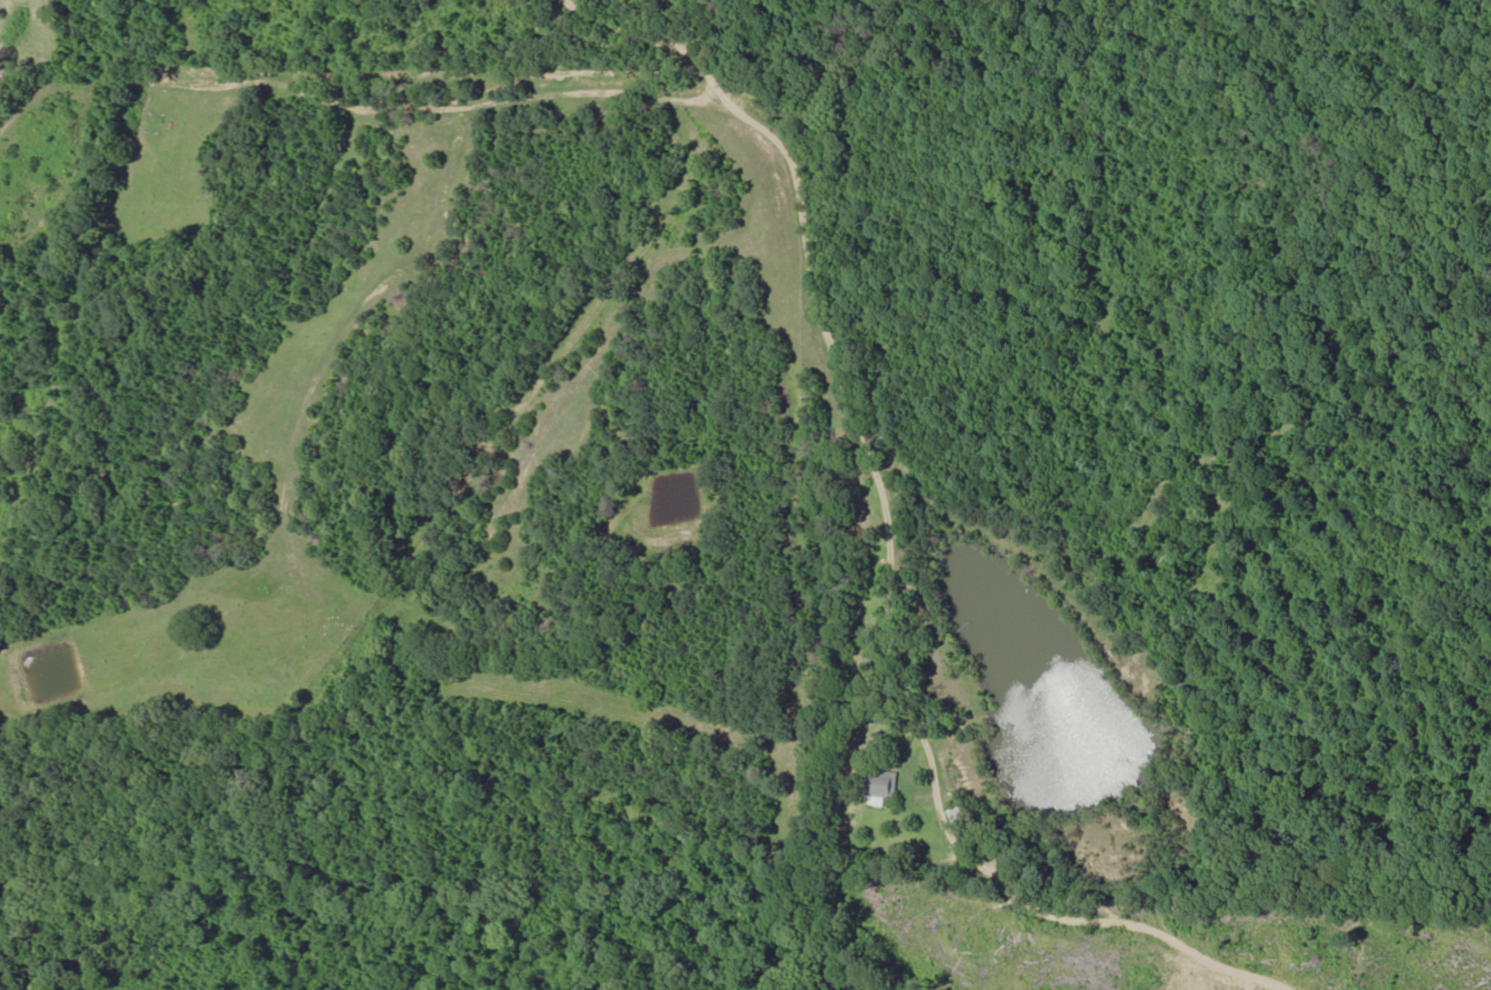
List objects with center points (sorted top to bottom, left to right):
building: (883, 788)
building: (959, 819)

